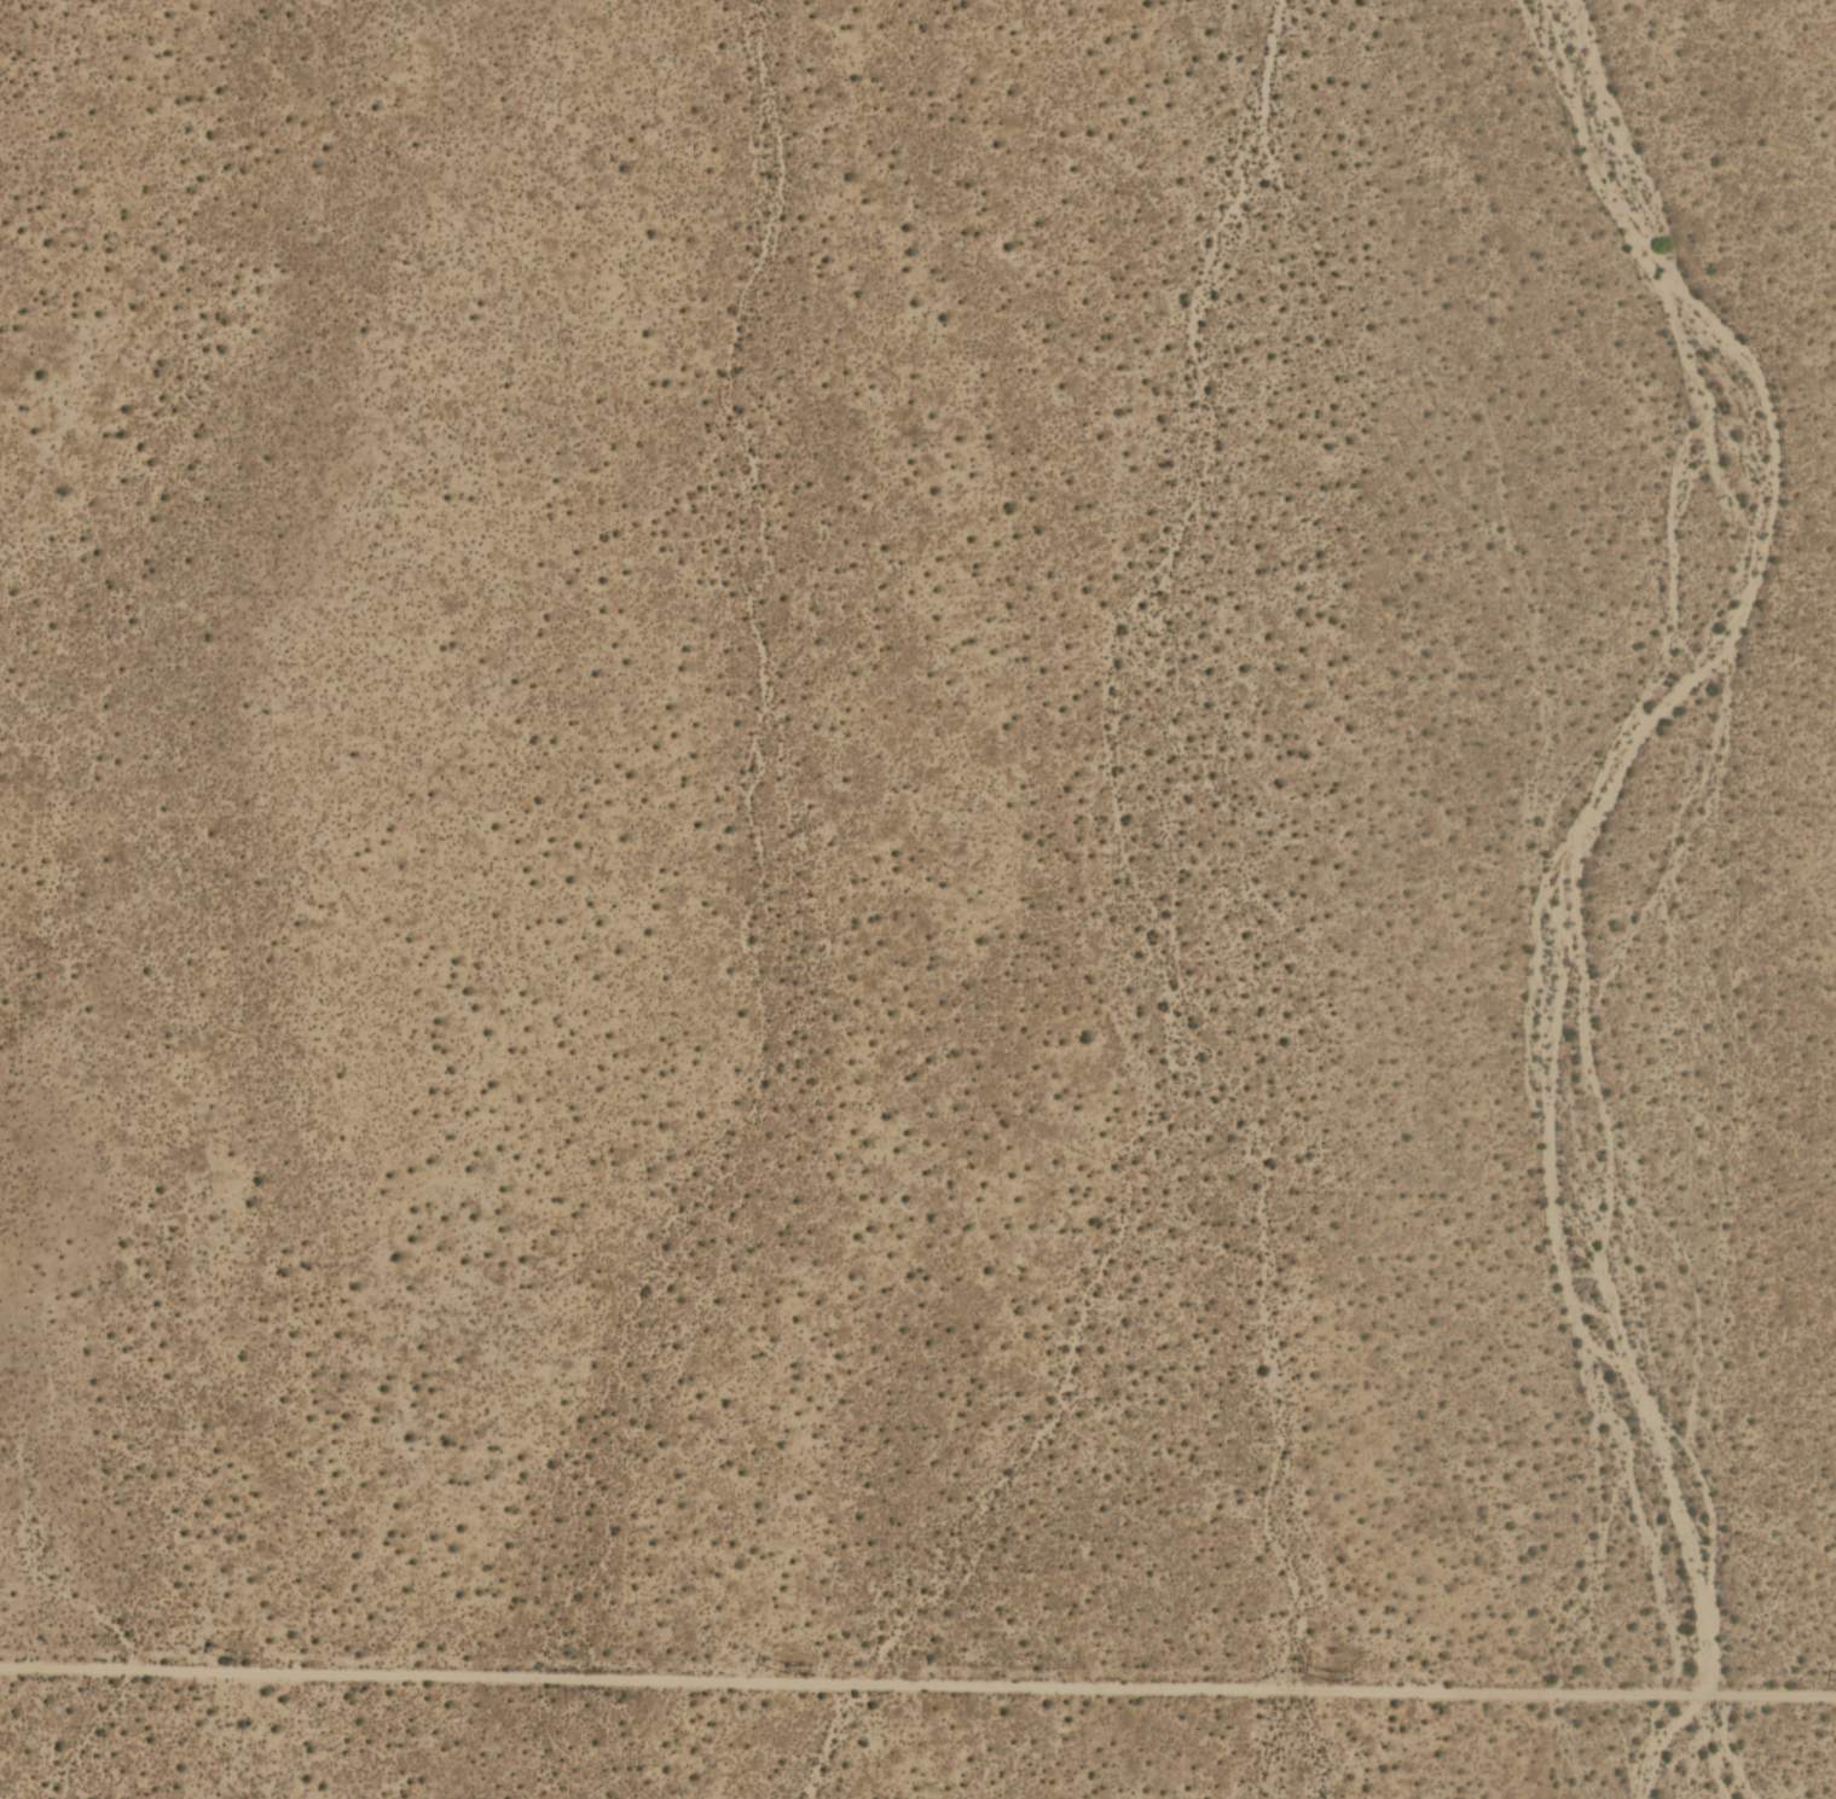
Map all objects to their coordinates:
power tower: (237, 1656)
power tower: (790, 1669)
power tower: (1330, 1675)

